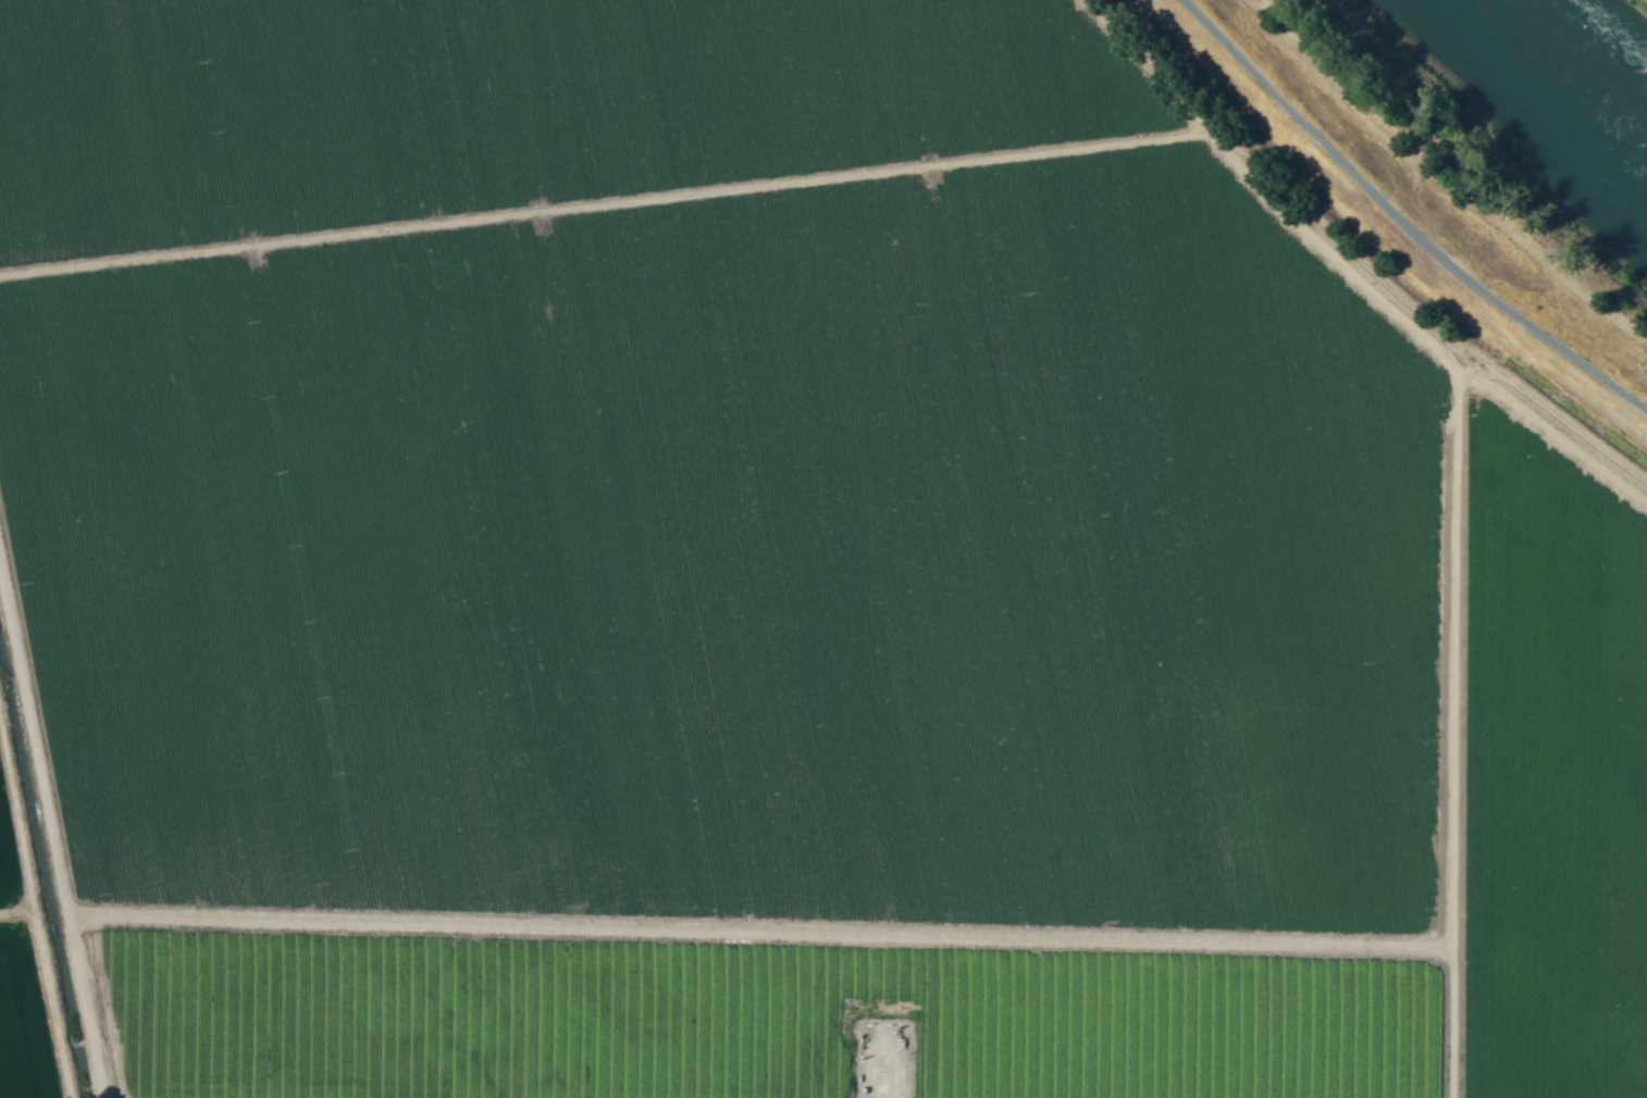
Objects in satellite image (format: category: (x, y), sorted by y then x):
river: (1569, 72)
road: (1405, 220)

